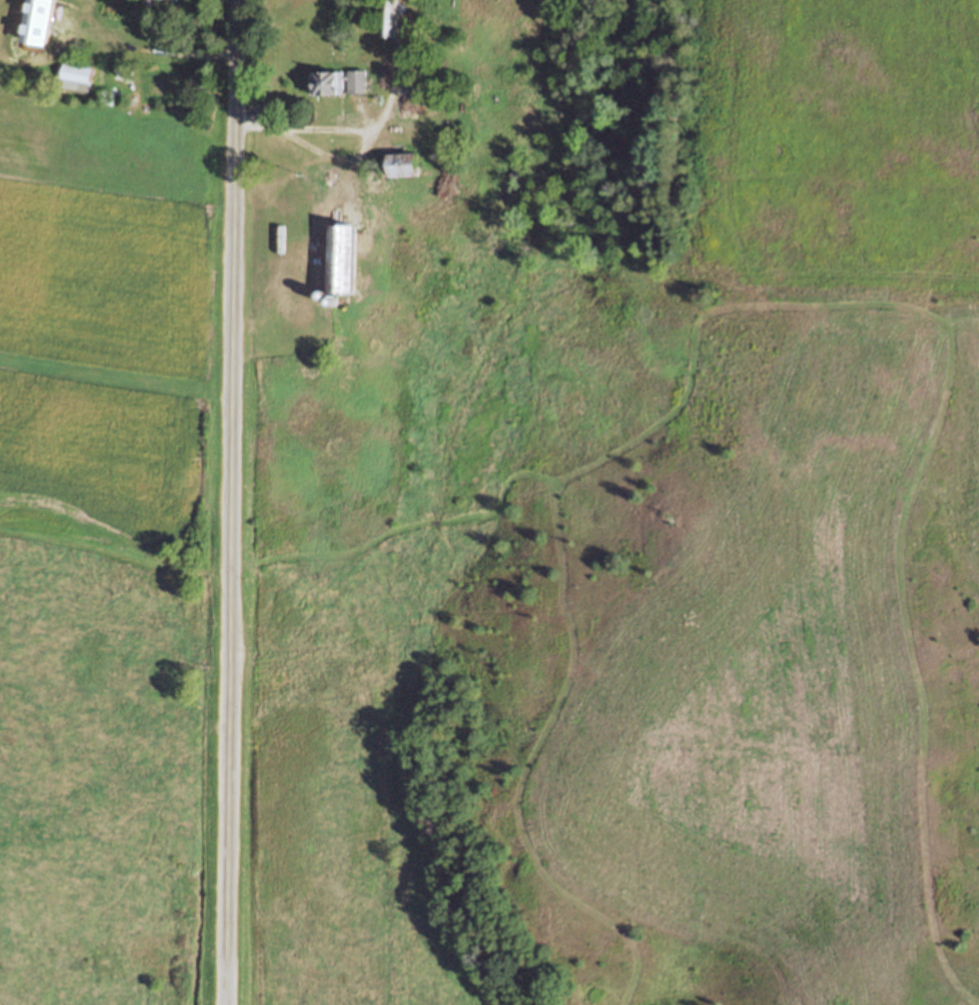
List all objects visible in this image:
building: (154, 0)
building: (385, 18)
road: (146, 49)
building: (122, 70)
building: (74, 74)
building: (355, 82)
building: (325, 85)
building: (408, 105)
road: (363, 114)
road: (322, 129)
road: (368, 142)
building: (401, 167)
building: (339, 259)
road: (231, 502)

